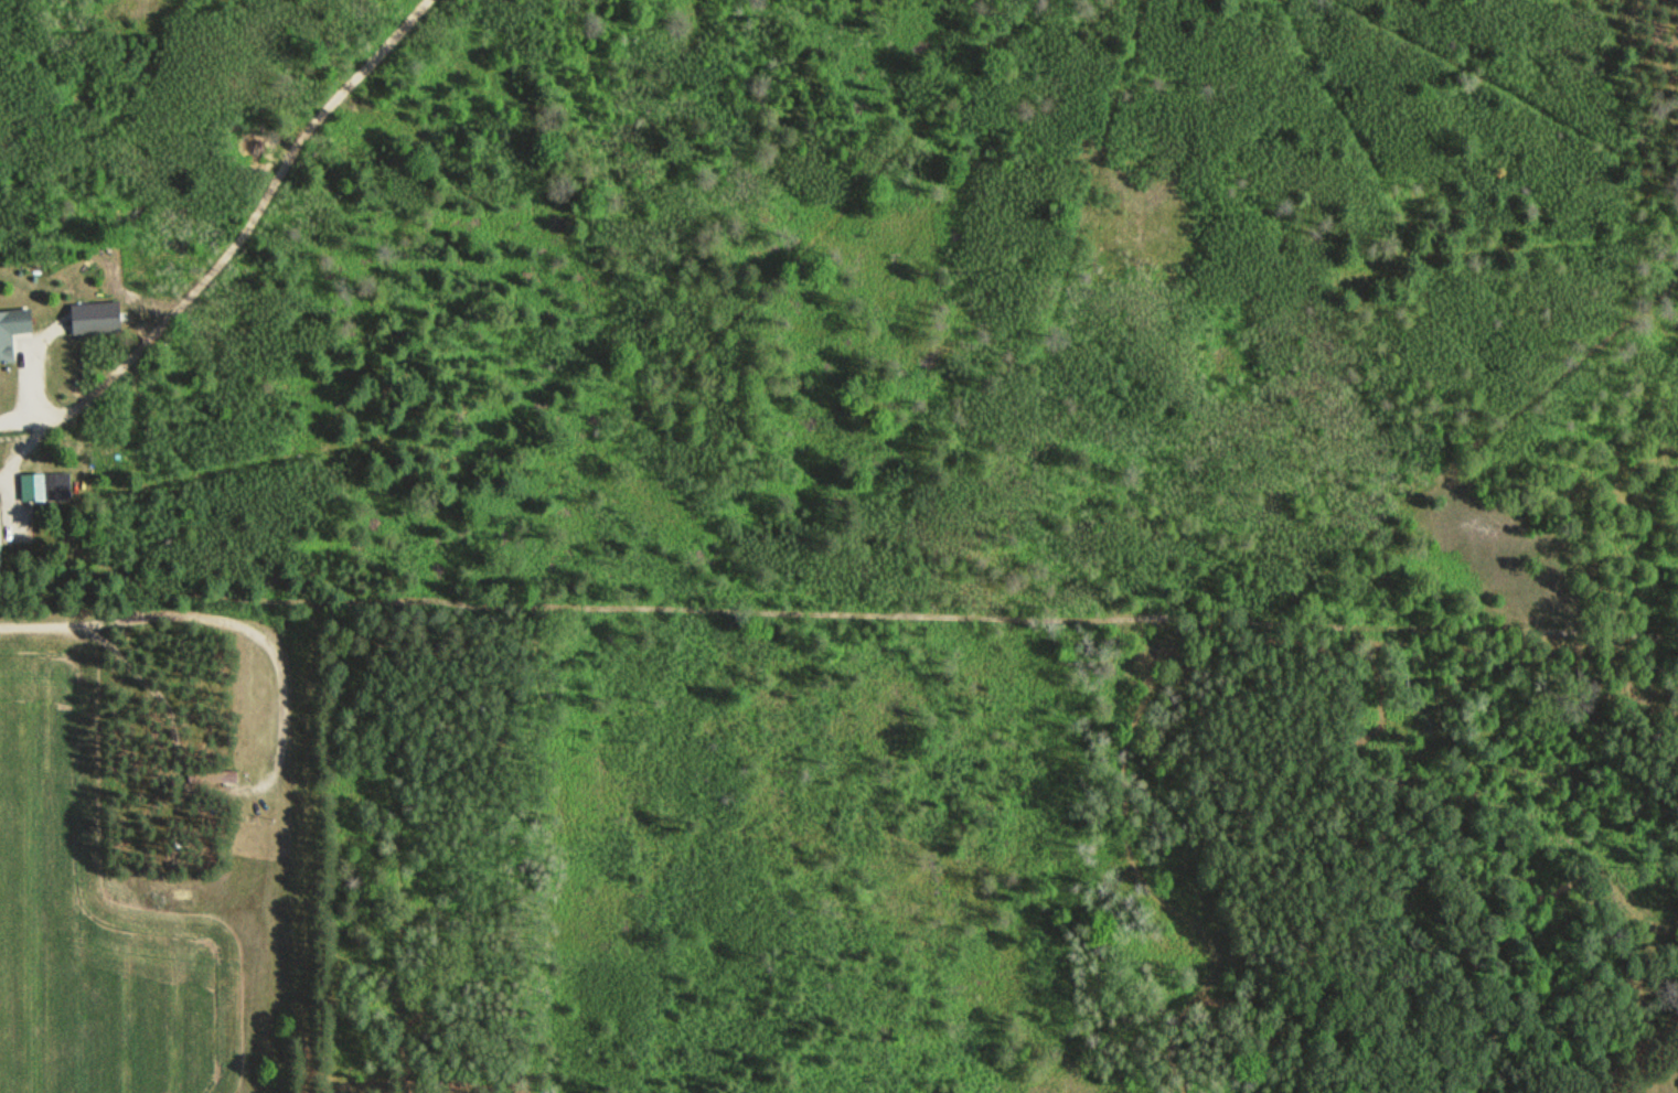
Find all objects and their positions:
road: (263, 205)
building: (88, 310)
building: (12, 328)
road: (33, 377)
road: (15, 418)
road: (56, 419)
road: (15, 459)
building: (46, 484)
road: (12, 497)
building: (0, 554)
road: (878, 613)
road: (225, 620)
building: (211, 780)

